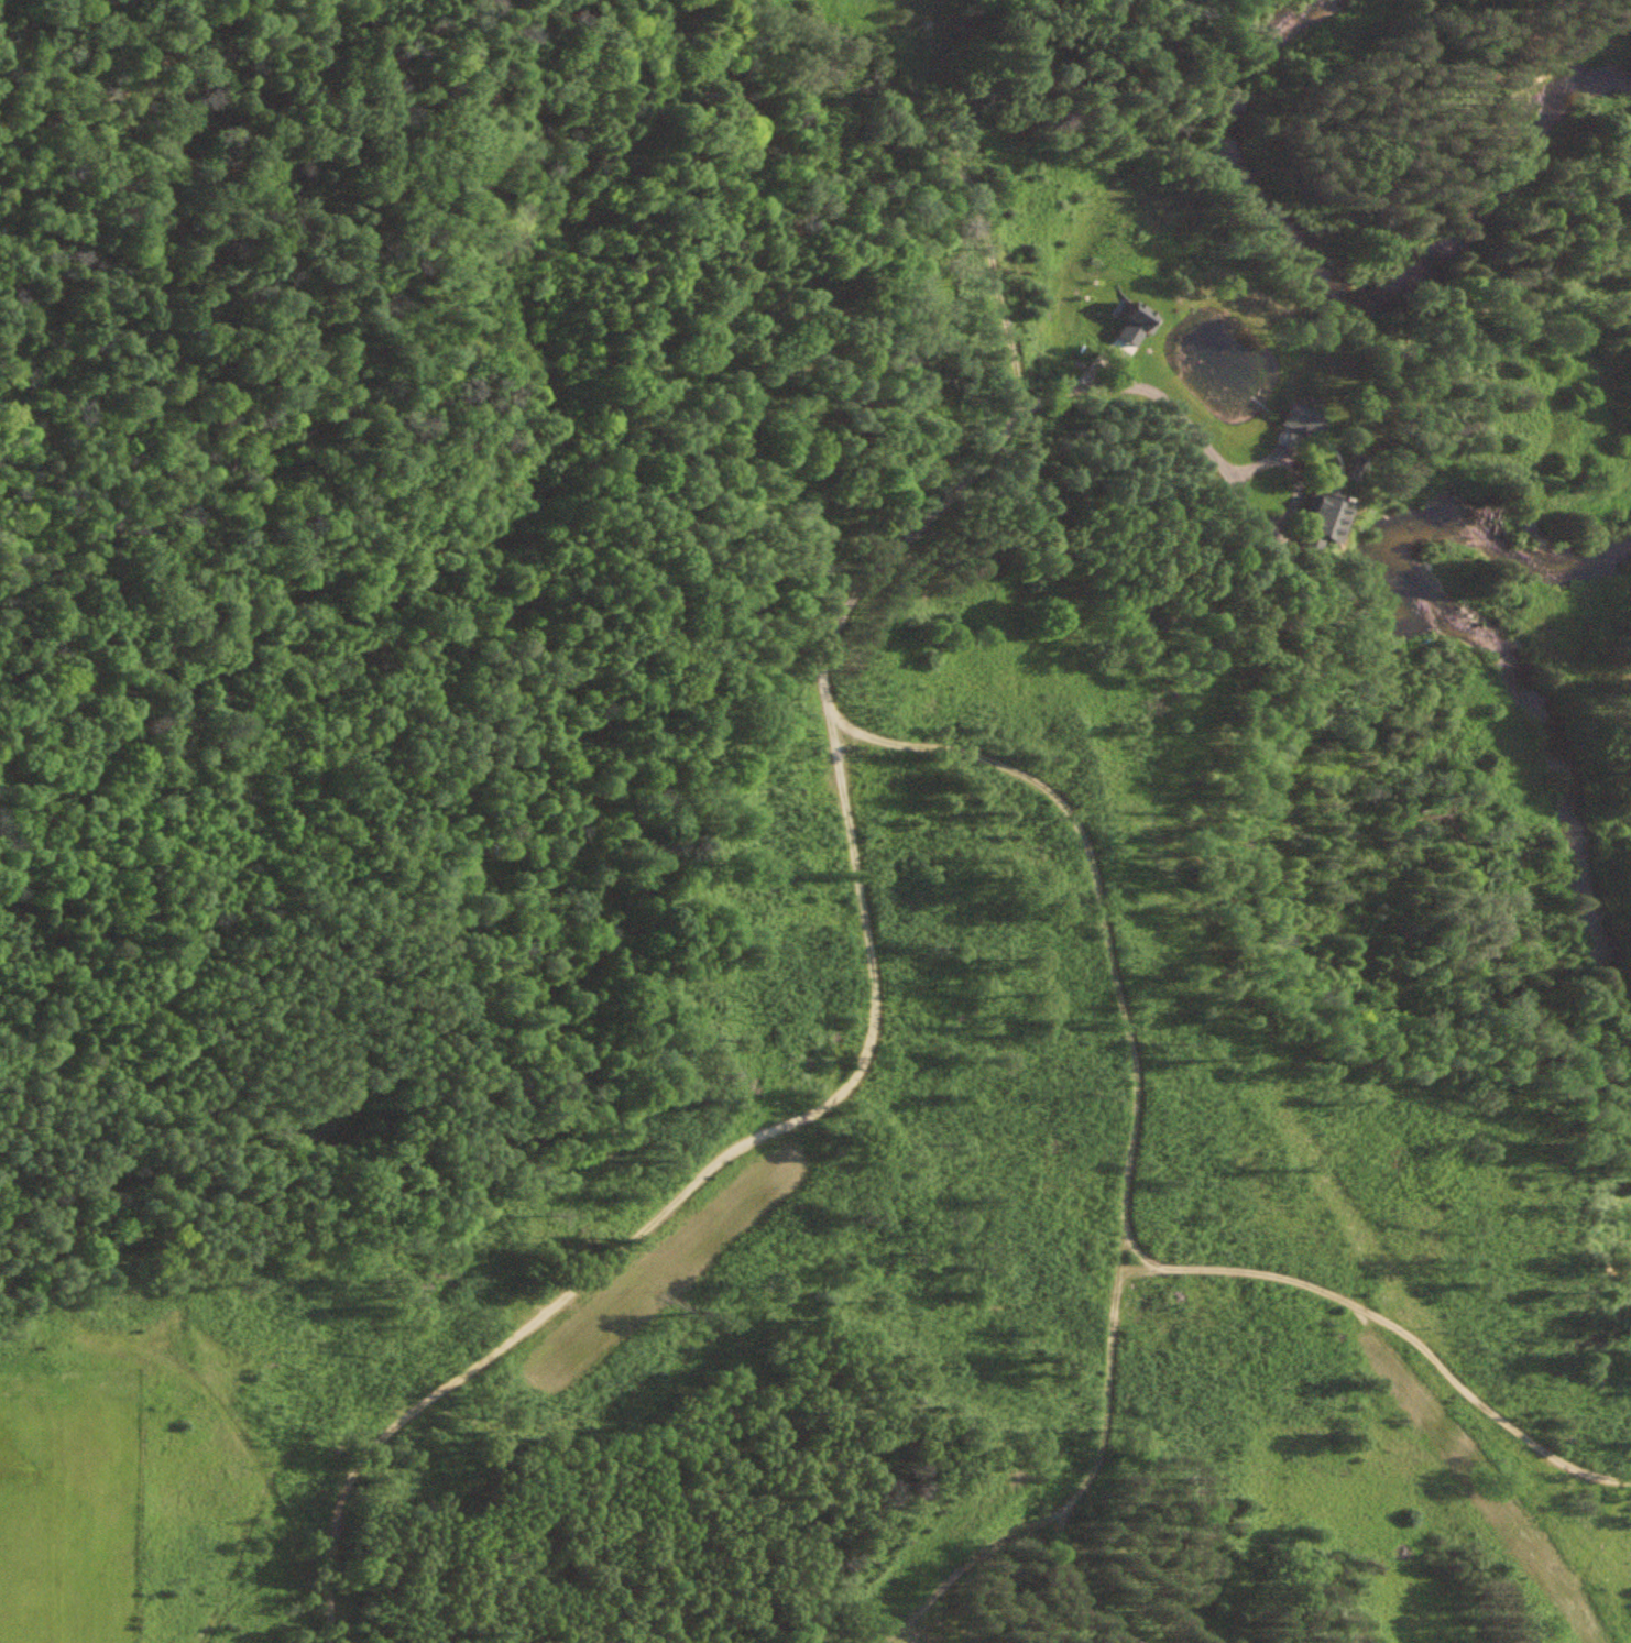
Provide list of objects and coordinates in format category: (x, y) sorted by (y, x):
river: (1347, 292)
building: (1298, 416)
road: (1217, 460)
building: (1318, 522)
river: (1499, 648)
road: (927, 746)
road: (675, 1198)
road: (1389, 1323)
road: (1092, 1593)

